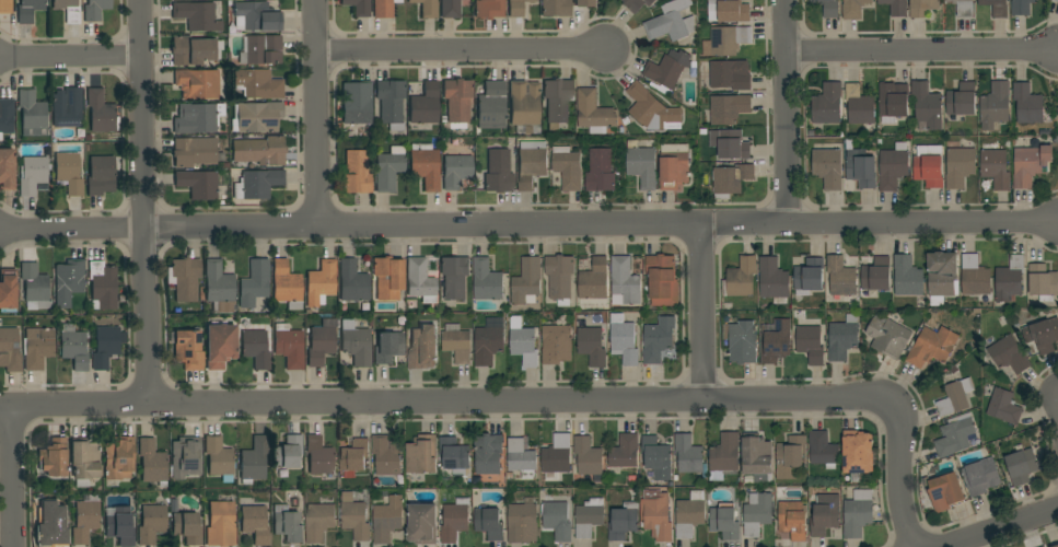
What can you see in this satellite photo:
building: (1056, 0)
building: (585, 3)
building: (636, 4)
building: (5, 7)
building: (358, 7)
building: (896, 7)
building: (963, 7)
building: (1021, 7)
building: (383, 8)
building: (427, 8)
building: (516, 8)
building: (556, 8)
building: (827, 8)
building: (922, 8)
building: (996, 8)
building: (450, 9)
building: (489, 9)
building: (853, 9)
building: (28, 10)
building: (68, 10)
building: (95, 10)
building: (728, 11)
building: (197, 16)
building: (256, 16)
building: (671, 22)
building: (729, 39)
building: (261, 50)
road: (462, 50)
building: (191, 51)
road: (922, 51)
road: (71, 56)
building: (667, 69)
building: (728, 75)
building: (197, 84)
building: (258, 84)
building: (962, 100)
building: (457, 101)
building: (356, 103)
building: (391, 103)
building: (524, 103)
building: (557, 103)
building: (894, 103)
building: (491, 104)
building: (827, 104)
building: (1027, 104)
building: (425, 105)
building: (859, 105)
building: (995, 105)
building: (927, 106)
building: (67, 107)
building: (729, 108)
building: (651, 109)
building: (1057, 109)
building: (101, 113)
building: (594, 113)
road: (788, 113)
building: (32, 114)
road: (316, 114)
building: (5, 117)
building: (257, 117)
building: (199, 119)
building: (730, 143)
building: (194, 151)
building: (259, 151)
building: (531, 163)
building: (1031, 163)
building: (641, 164)
building: (426, 165)
building: (674, 166)
building: (893, 166)
building: (960, 166)
building: (995, 166)
building: (568, 167)
building: (827, 167)
building: (928, 167)
building: (7, 168)
building: (390, 168)
building: (861, 170)
building: (456, 171)
building: (600, 171)
building: (498, 172)
building: (69, 173)
building: (354, 174)
building: (101, 175)
building: (33, 176)
building: (731, 179)
building: (198, 184)
building: (257, 184)
road: (143, 203)
road: (528, 226)
building: (810, 275)
building: (941, 276)
building: (454, 277)
building: (742, 277)
building: (841, 277)
building: (907, 277)
building: (184, 278)
building: (387, 278)
building: (559, 278)
building: (875, 278)
building: (975, 278)
building: (69, 279)
building: (772, 279)
building: (1009, 279)
building: (420, 280)
building: (487, 280)
building: (594, 280)
building: (662, 280)
building: (526, 281)
building: (321, 282)
building: (352, 282)
building: (625, 282)
building: (1043, 282)
building: (254, 283)
building: (287, 284)
building: (35, 286)
building: (102, 286)
building: (219, 288)
building: (8, 290)
road: (702, 313)
building: (1042, 335)
building: (887, 336)
building: (842, 338)
building: (658, 339)
building: (624, 340)
building: (489, 341)
building: (741, 341)
building: (322, 342)
building: (456, 342)
building: (776, 342)
building: (356, 344)
building: (810, 344)
building: (220, 345)
building: (557, 345)
building: (289, 346)
building: (524, 346)
building: (591, 346)
building: (73, 347)
building: (106, 347)
building: (387, 347)
building: (931, 347)
building: (37, 348)
building: (422, 348)
building: (188, 349)
building: (256, 349)
building: (9, 350)
building: (1008, 353)
building: (955, 397)
road: (422, 404)
building: (1003, 406)
building: (955, 435)
building: (823, 450)
building: (624, 452)
building: (288, 453)
building: (858, 453)
building: (421, 454)
building: (688, 454)
building: (386, 455)
building: (454, 455)
building: (724, 455)
road: (896, 455)
building: (353, 456)
building: (487, 456)
building: (588, 456)
building: (656, 456)
building: (790, 456)
building: (186, 457)
building: (556, 457)
building: (53, 458)
building: (118, 458)
building: (219, 458)
building: (321, 458)
building: (521, 458)
building: (757, 458)
building: (85, 461)
building: (254, 461)
building: (152, 462)
building: (1021, 466)
building: (980, 476)
road: (11, 477)
building: (945, 492)
building: (756, 513)
building: (689, 514)
building: (825, 514)
building: (858, 514)
building: (656, 515)
building: (589, 517)
building: (85, 519)
building: (354, 519)
building: (387, 520)
building: (454, 520)
building: (792, 520)
building: (219, 521)
building: (319, 521)
building: (557, 521)
building: (623, 522)
building: (724, 522)
building: (489, 523)
building: (151, 524)
building: (255, 524)
building: (287, 524)
building: (422, 524)
building: (523, 524)
building: (54, 525)
building: (120, 526)
building: (187, 527)
road: (1002, 527)
road: (1027, 537)
building: (1044, 546)
building: (1056, 546)

